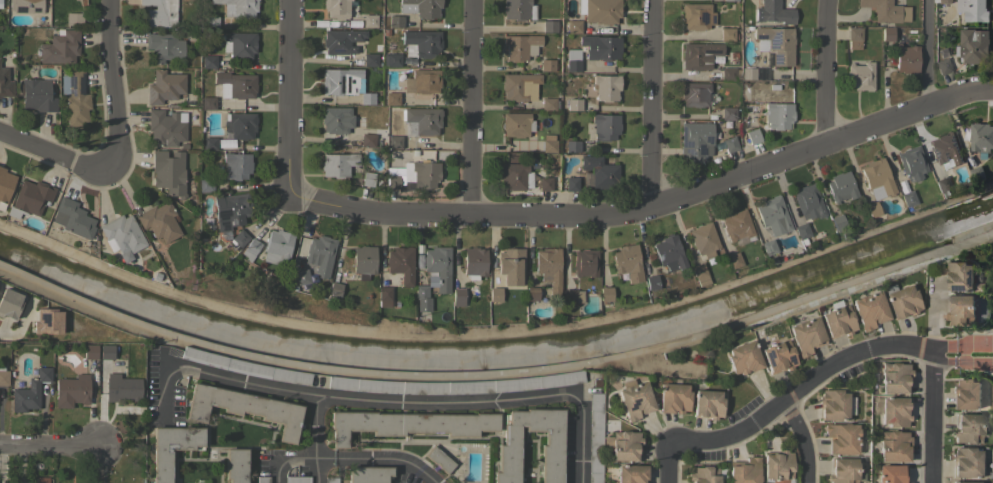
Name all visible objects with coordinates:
building: (732, 0)
building: (944, 1)
building: (0, 4)
building: (26, 6)
building: (421, 7)
building: (238, 8)
building: (336, 8)
rooftop solar panel: (36, 9)
building: (518, 9)
building: (886, 10)
building: (972, 10)
rooftop solar panel: (21, 11)
building: (601, 11)
building: (774, 12)
building: (158, 13)
building: (696, 16)
rooftop solar panel: (702, 17)
building: (73, 18)
building: (369, 20)
rooftop solar panel: (715, 20)
building: (394, 21)
building: (211, 22)
building: (549, 26)
building: (573, 26)
building: (886, 33)
building: (727, 34)
building: (853, 37)
rooftop solar panel: (762, 38)
building: (341, 40)
rooftop solar panel: (776, 41)
building: (421, 43)
building: (239, 44)
building: (775, 44)
building: (519, 46)
building: (973, 46)
building: (60, 47)
building: (164, 47)
building: (600, 47)
rooftop solar panel: (709, 50)
rooftop solar panel: (338, 51)
road: (924, 54)
building: (699, 55)
building: (370, 59)
building: (906, 59)
building: (391, 60)
building: (573, 60)
rooftop solar panel: (779, 60)
building: (208, 61)
building: (547, 65)
building: (942, 66)
road: (826, 72)
building: (730, 73)
building: (747, 73)
building: (859, 76)
building: (340, 81)
rooftop solar panel: (341, 81)
building: (422, 81)
rooftop solar panel: (353, 82)
building: (5, 83)
rooftop solar panel: (347, 83)
road: (110, 84)
building: (235, 84)
building: (519, 86)
building: (164, 87)
building: (606, 87)
building: (694, 94)
building: (37, 95)
road: (286, 96)
building: (75, 97)
building: (367, 98)
building: (392, 98)
building: (208, 103)
building: (548, 104)
building: (574, 104)
road: (650, 106)
road: (471, 107)
building: (728, 113)
building: (778, 115)
building: (336, 119)
building: (422, 120)
building: (516, 124)
rooftop solar panel: (727, 124)
building: (239, 125)
building: (605, 126)
building: (165, 128)
rooftop solar panel: (709, 136)
building: (752, 136)
building: (981, 137)
rooftop solar panel: (683, 139)
building: (367, 140)
building: (394, 141)
building: (695, 141)
building: (209, 143)
building: (730, 144)
building: (549, 146)
building: (572, 146)
rooftop solar panel: (700, 149)
building: (945, 149)
rooftop solar panel: (689, 154)
road: (53, 155)
building: (912, 163)
building: (337, 164)
building: (236, 165)
building: (169, 171)
building: (599, 171)
building: (424, 174)
building: (515, 174)
building: (977, 174)
building: (367, 179)
building: (877, 179)
building: (393, 182)
building: (545, 184)
building: (571, 184)
building: (942, 184)
building: (205, 185)
building: (5, 186)
building: (841, 187)
building: (30, 197)
building: (907, 198)
building: (807, 200)
building: (872, 209)
building: (230, 211)
road: (648, 212)
rooftop solar panel: (228, 213)
building: (772, 214)
building: (72, 218)
building: (159, 221)
building: (837, 222)
building: (737, 225)
building: (801, 231)
building: (122, 234)
building: (239, 239)
building: (703, 239)
building: (277, 246)
building: (768, 247)
building: (250, 249)
building: (669, 253)
building: (320, 254)
building: (733, 260)
building: (364, 261)
building: (474, 262)
building: (627, 262)
building: (585, 263)
building: (401, 264)
building: (438, 266)
building: (510, 266)
building: (549, 271)
building: (699, 274)
building: (302, 276)
building: (959, 277)
rooftop solar panel: (975, 281)
building: (652, 282)
building: (335, 289)
rooftop solar panel: (963, 289)
building: (532, 293)
building: (495, 294)
building: (606, 294)
building: (572, 296)
building: (458, 297)
building: (386, 298)
building: (422, 298)
building: (902, 301)
building: (9, 303)
building: (869, 310)
building: (962, 311)
rooftop solar panel: (46, 318)
building: (46, 321)
building: (838, 321)
building: (806, 335)
building: (90, 351)
building: (106, 351)
building: (779, 356)
building: (743, 357)
building: (245, 367)
road: (823, 372)
building: (3, 376)
road: (497, 376)
building: (894, 377)
building: (458, 383)
building: (121, 387)
building: (71, 390)
building: (29, 391)
building: (965, 394)
building: (673, 398)
building: (635, 399)
road: (339, 400)
building: (707, 404)
rooftop solar panel: (634, 405)
building: (833, 405)
building: (244, 408)
building: (894, 411)
road: (932, 419)
building: (409, 424)
building: (967, 427)
road: (580, 434)
building: (595, 437)
building: (841, 438)
road: (800, 440)
road: (314, 441)
building: (622, 445)
road: (50, 446)
building: (893, 446)
building: (171, 448)
building: (551, 457)
road: (376, 458)
building: (439, 459)
road: (297, 461)
building: (965, 461)
road: (670, 464)
building: (235, 465)
building: (778, 467)
building: (744, 470)
building: (842, 470)
road: (279, 472)
building: (631, 473)
building: (368, 474)
building: (703, 474)
building: (891, 474)
building: (262, 479)
building: (296, 479)
building: (39, 480)
building: (331, 480)
building: (962, 482)

